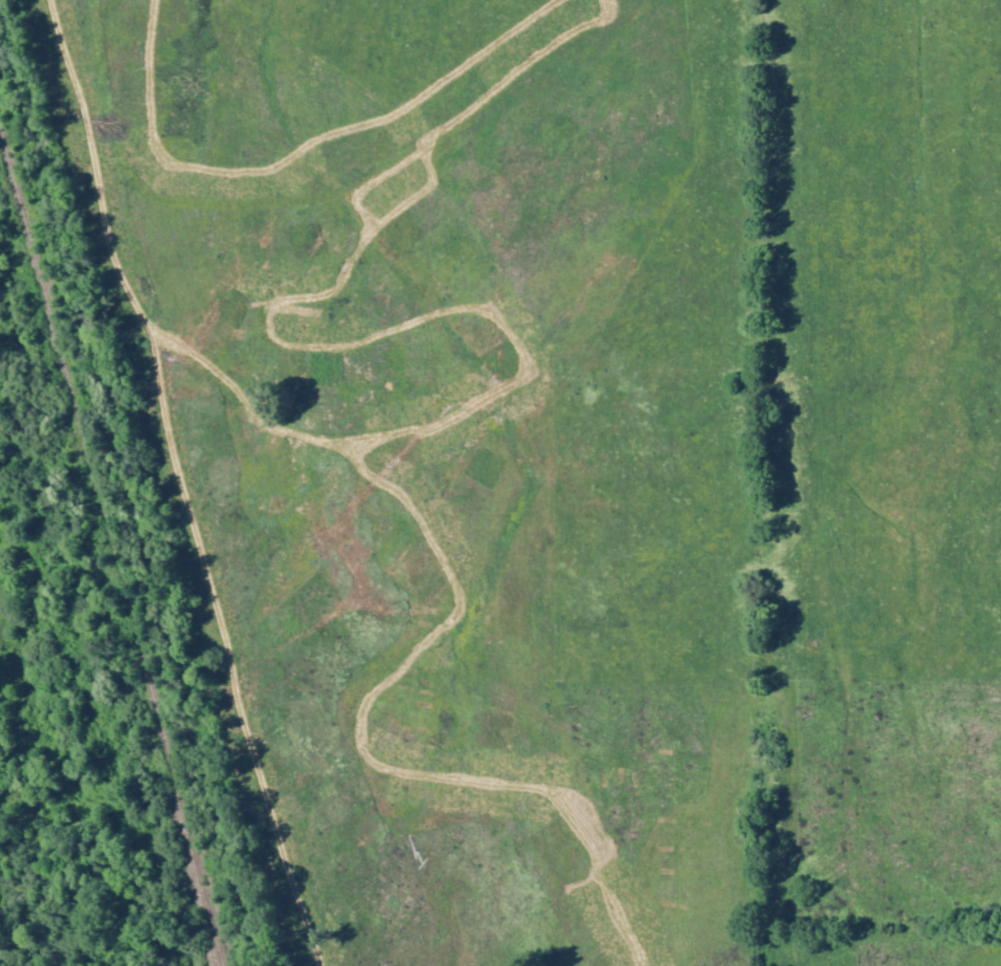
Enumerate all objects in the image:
railway: (93, 487)
railway: (195, 902)
railway: (204, 902)
railway: (213, 925)

